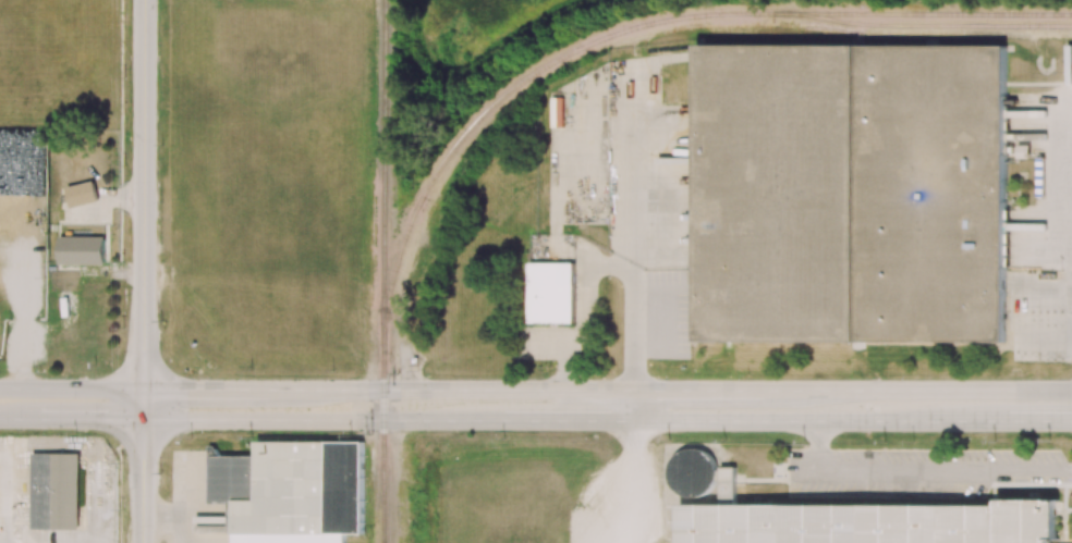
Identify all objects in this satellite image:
railway: (943, 15)
railway: (641, 28)
street lamp: (125, 77)
building: (23, 158)
building: (853, 193)
building: (2, 194)
road: (144, 195)
building: (23, 196)
street lamp: (161, 202)
road: (630, 230)
building: (23, 233)
building: (82, 249)
railway: (385, 271)
building: (551, 293)
road: (584, 313)
street lamp: (122, 328)
road: (541, 350)
street lamp: (251, 370)
street lamp: (41, 371)
road: (72, 388)
road: (217, 390)
road: (681, 391)
road: (12, 418)
road: (83, 419)
road: (607, 422)
street lamp: (75, 432)
street lamp: (193, 434)
street lamp: (349, 435)
road: (143, 466)
road: (925, 468)
street lamp: (161, 472)
building: (695, 472)
building: (56, 491)
building: (291, 491)
street lamp: (123, 509)
building: (872, 522)

